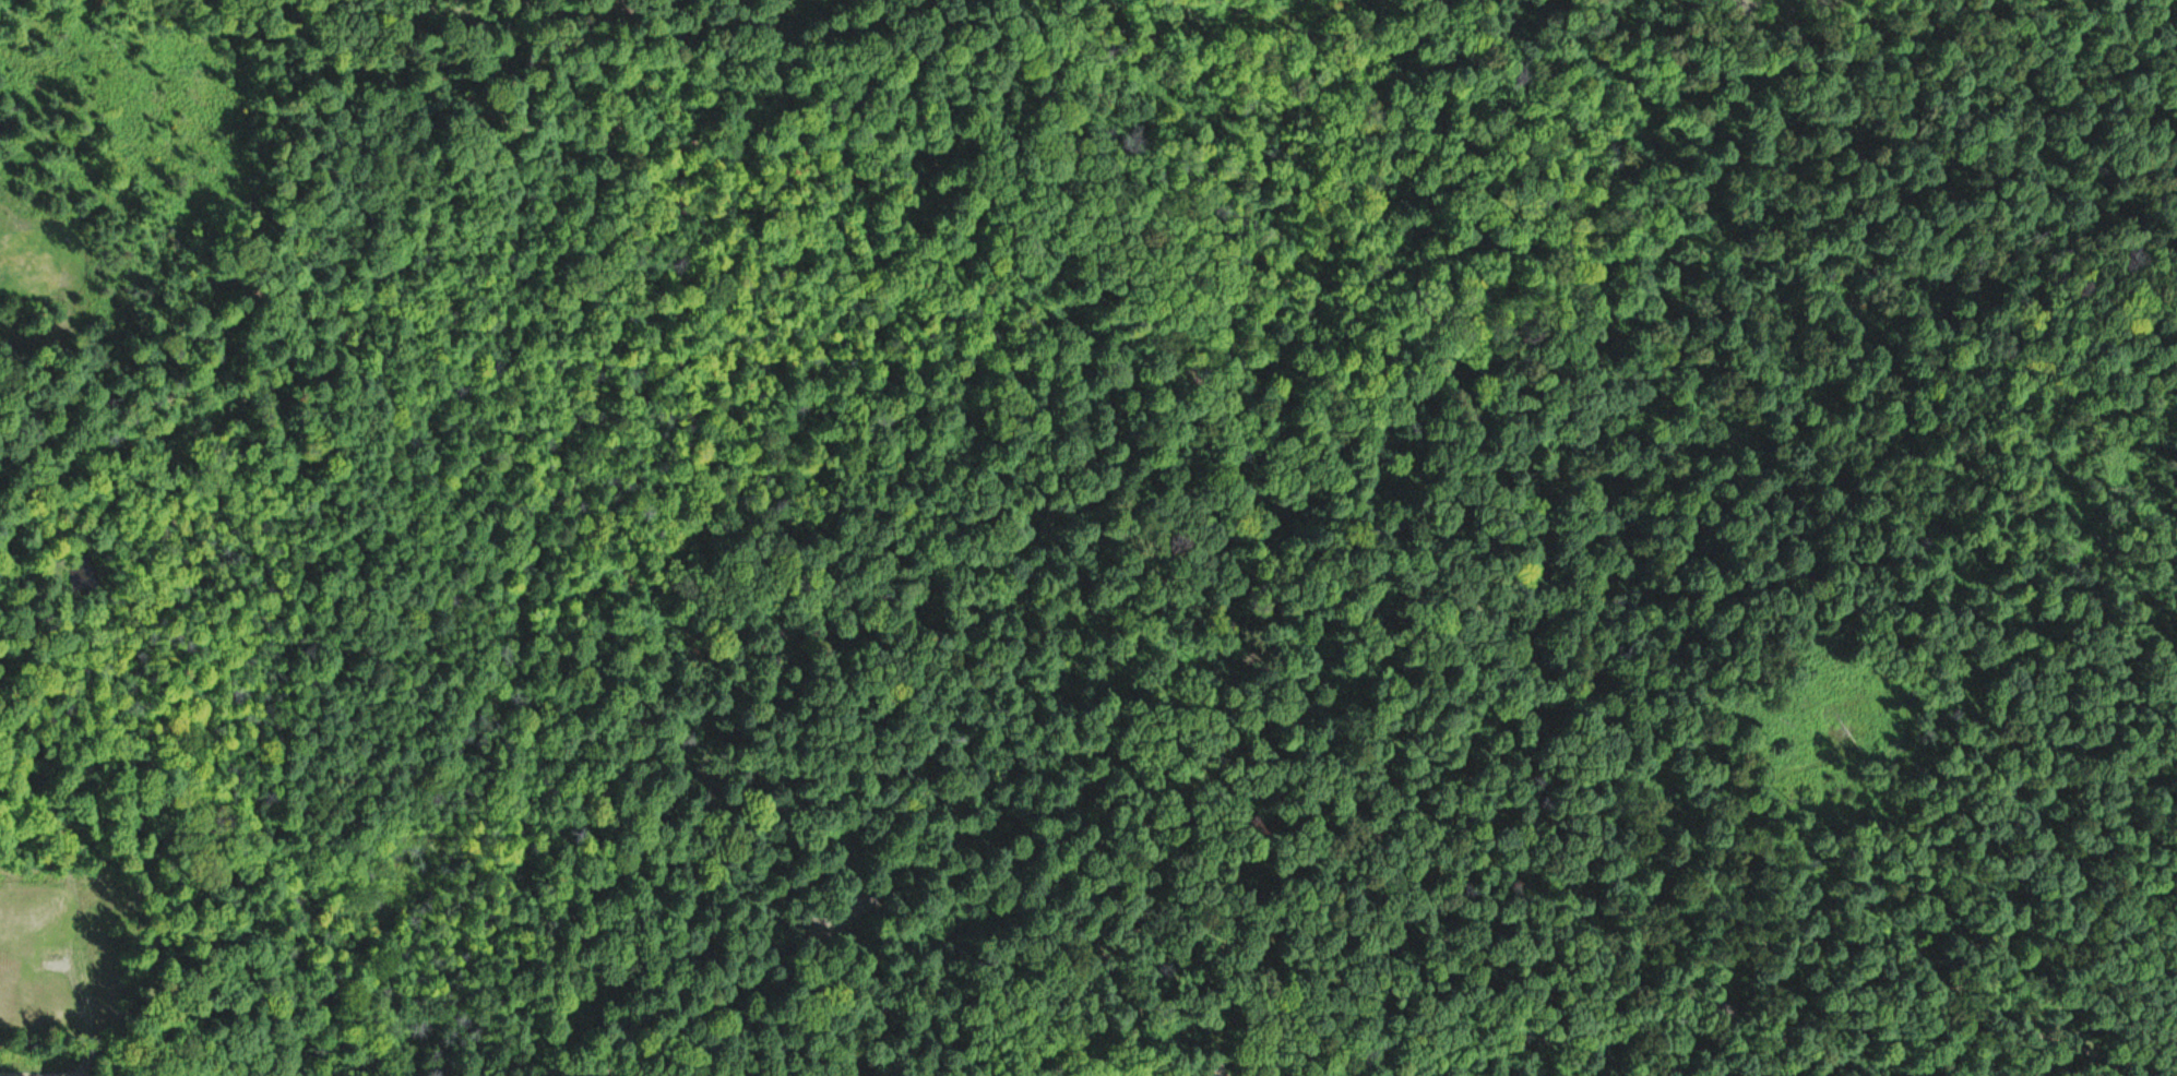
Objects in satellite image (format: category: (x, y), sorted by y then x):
road: (1738, 1040)
road: (133, 1073)

